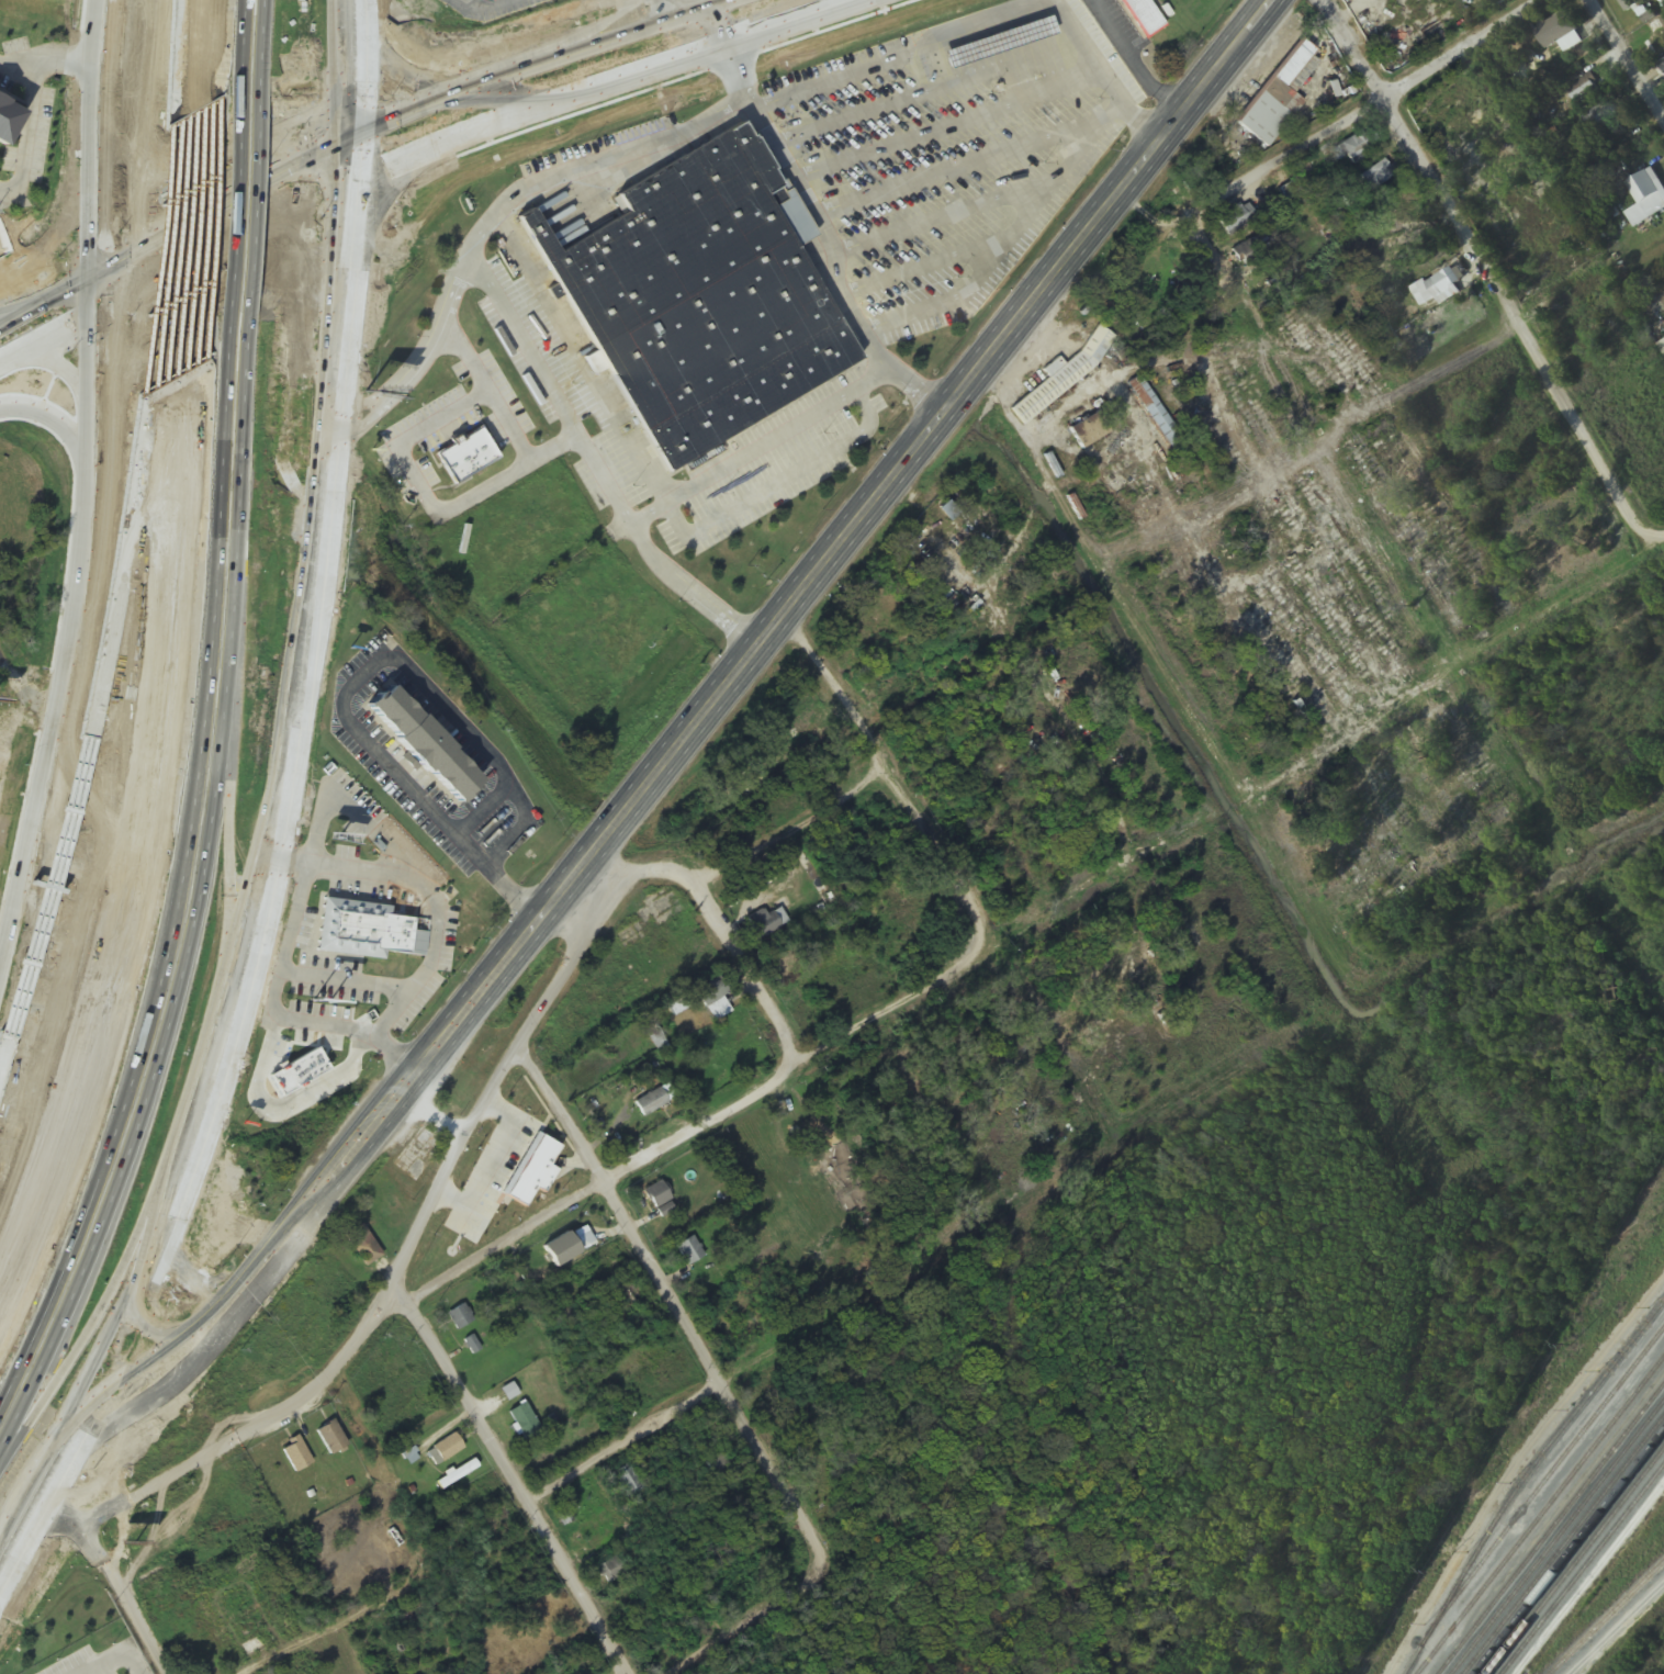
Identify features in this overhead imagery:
building: (1630, 4)
road: (671, 8)
building: (1138, 13)
building: (1566, 33)
road: (1235, 40)
road: (1248, 40)
building: (1655, 40)
building: (991, 41)
gas station: (991, 41)
road: (210, 52)
road: (901, 52)
road: (190, 57)
road: (1624, 60)
road: (738, 69)
road: (605, 85)
road: (358, 89)
building: (1278, 96)
road: (751, 99)
road: (394, 115)
building: (1601, 116)
building: (14, 130)
road: (1337, 130)
traffic signals: (356, 133)
road: (91, 137)
building: (1359, 148)
road: (187, 149)
road: (587, 165)
building: (1378, 175)
traffic signals: (353, 180)
road: (1048, 189)
building: (1649, 192)
road: (202, 201)
road: (378, 212)
road: (823, 218)
building: (1236, 218)
road: (60, 232)
road: (223, 247)
building: (1250, 250)
traffic signals: (89, 276)
road: (1487, 276)
road: (180, 281)
road: (170, 285)
building: (706, 288)
building: (1437, 288)
road: (44, 301)
road: (210, 301)
road: (21, 307)
road: (196, 308)
traffic signals: (92, 314)
road: (46, 338)
road: (195, 342)
building: (1662, 347)
road: (878, 349)
road: (57, 364)
building: (1063, 375)
road: (917, 389)
road: (556, 398)
road: (360, 402)
road: (48, 414)
building: (1157, 417)
road: (358, 429)
building: (1088, 430)
road: (1337, 440)
road: (760, 445)
road: (552, 447)
building: (466, 452)
road: (138, 476)
road: (776, 483)
road: (471, 494)
road: (69, 596)
road: (1553, 614)
road: (315, 642)
road: (2, 661)
road: (741, 669)
building: (441, 759)
road: (899, 771)
road: (1509, 797)
road: (69, 817)
road: (130, 832)
road: (147, 854)
road: (754, 862)
building: (11, 881)
building: (743, 892)
road: (40, 897)
building: (763, 924)
building: (368, 928)
road: (4, 932)
road: (751, 971)
road: (358, 981)
building: (711, 993)
road: (391, 1030)
building: (650, 1103)
road: (695, 1128)
building: (656, 1195)
building: (207, 1226)
building: (362, 1246)
building: (689, 1251)
road: (409, 1258)
road: (212, 1284)
road: (138, 1306)
road: (678, 1307)
building: (460, 1317)
power tower: (1571, 1352)
road: (184, 1371)
building: (524, 1423)
building: (330, 1439)
road: (631, 1447)
building: (443, 1451)
building: (295, 1456)
railway: (1551, 1474)
building: (458, 1475)
railway: (1524, 1480)
building: (630, 1483)
road: (524, 1486)
building: (566, 1512)
railway: (1541, 1516)
railway: (1552, 1530)
road: (21, 1551)
building: (614, 1570)
power tower: (1435, 1575)
road: (115, 1584)
railway: (1609, 1619)
road: (762, 1622)
road: (1616, 1628)
road: (334, 1631)
building: (250, 1636)
building: (59, 1661)
building: (82, 1671)

